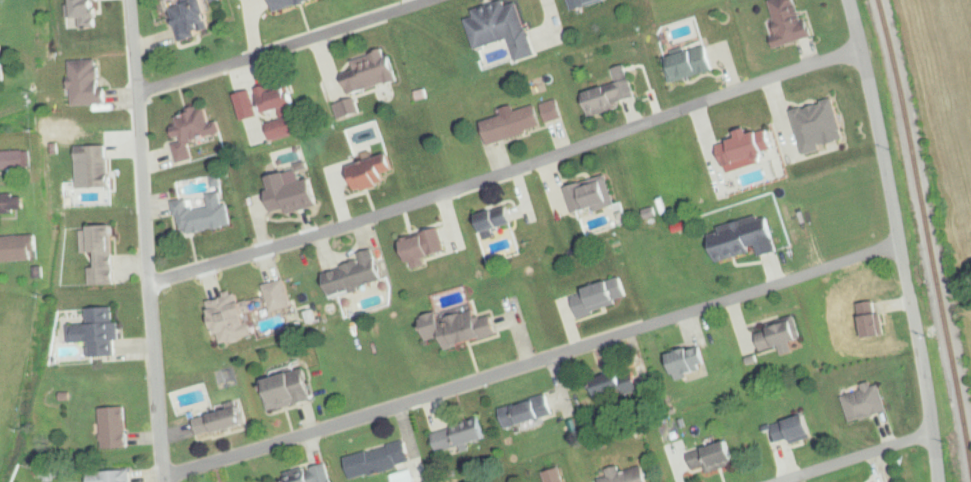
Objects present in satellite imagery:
building: (289, 3)
building: (585, 4)
building: (87, 14)
building: (191, 19)
building: (789, 21)
building: (503, 28)
road: (288, 48)
building: (699, 61)
building: (1, 65)
building: (362, 77)
building: (87, 83)
building: (609, 96)
building: (279, 110)
building: (525, 122)
building: (192, 128)
building: (745, 149)
building: (13, 161)
building: (96, 168)
road: (517, 170)
building: (373, 174)
building: (292, 193)
building: (591, 197)
building: (12, 204)
building: (200, 214)
building: (490, 223)
building: (750, 238)
road: (896, 239)
railway: (922, 239)
road: (147, 240)
building: (423, 247)
building: (19, 249)
building: (100, 255)
building: (354, 275)
road: (161, 282)
building: (276, 297)
building: (595, 300)
building: (230, 318)
building: (868, 321)
building: (459, 330)
building: (96, 331)
building: (779, 334)
road: (542, 360)
building: (688, 362)
building: (617, 384)
building: (287, 390)
building: (865, 403)
building: (522, 416)
building: (219, 423)
building: (114, 429)
building: (799, 429)
building: (460, 436)
building: (713, 458)
road: (857, 458)
building: (383, 459)
road: (174, 473)
building: (303, 475)
building: (111, 476)
building: (555, 476)
building: (626, 476)

